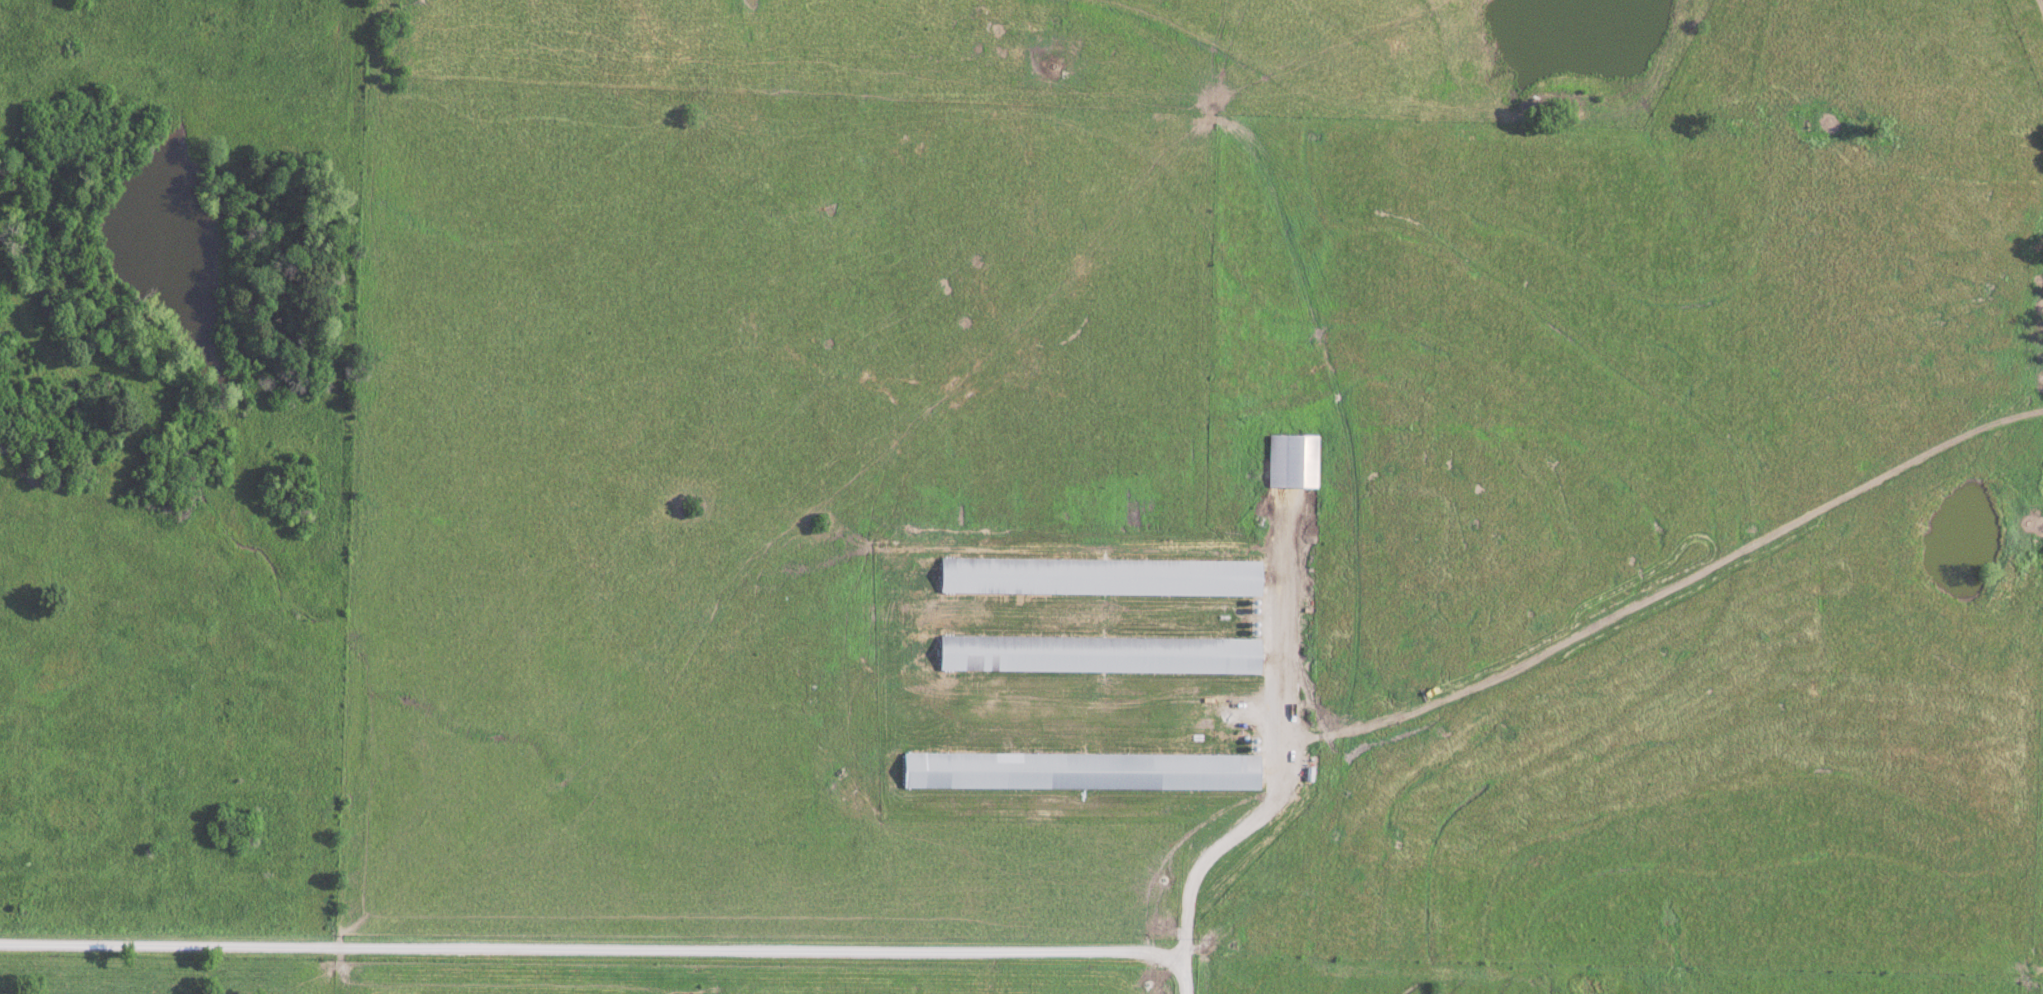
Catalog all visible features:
building: (1293, 461)
building: (1101, 576)
building: (1100, 653)
road: (1273, 753)
building: (1082, 770)
road: (603, 954)

